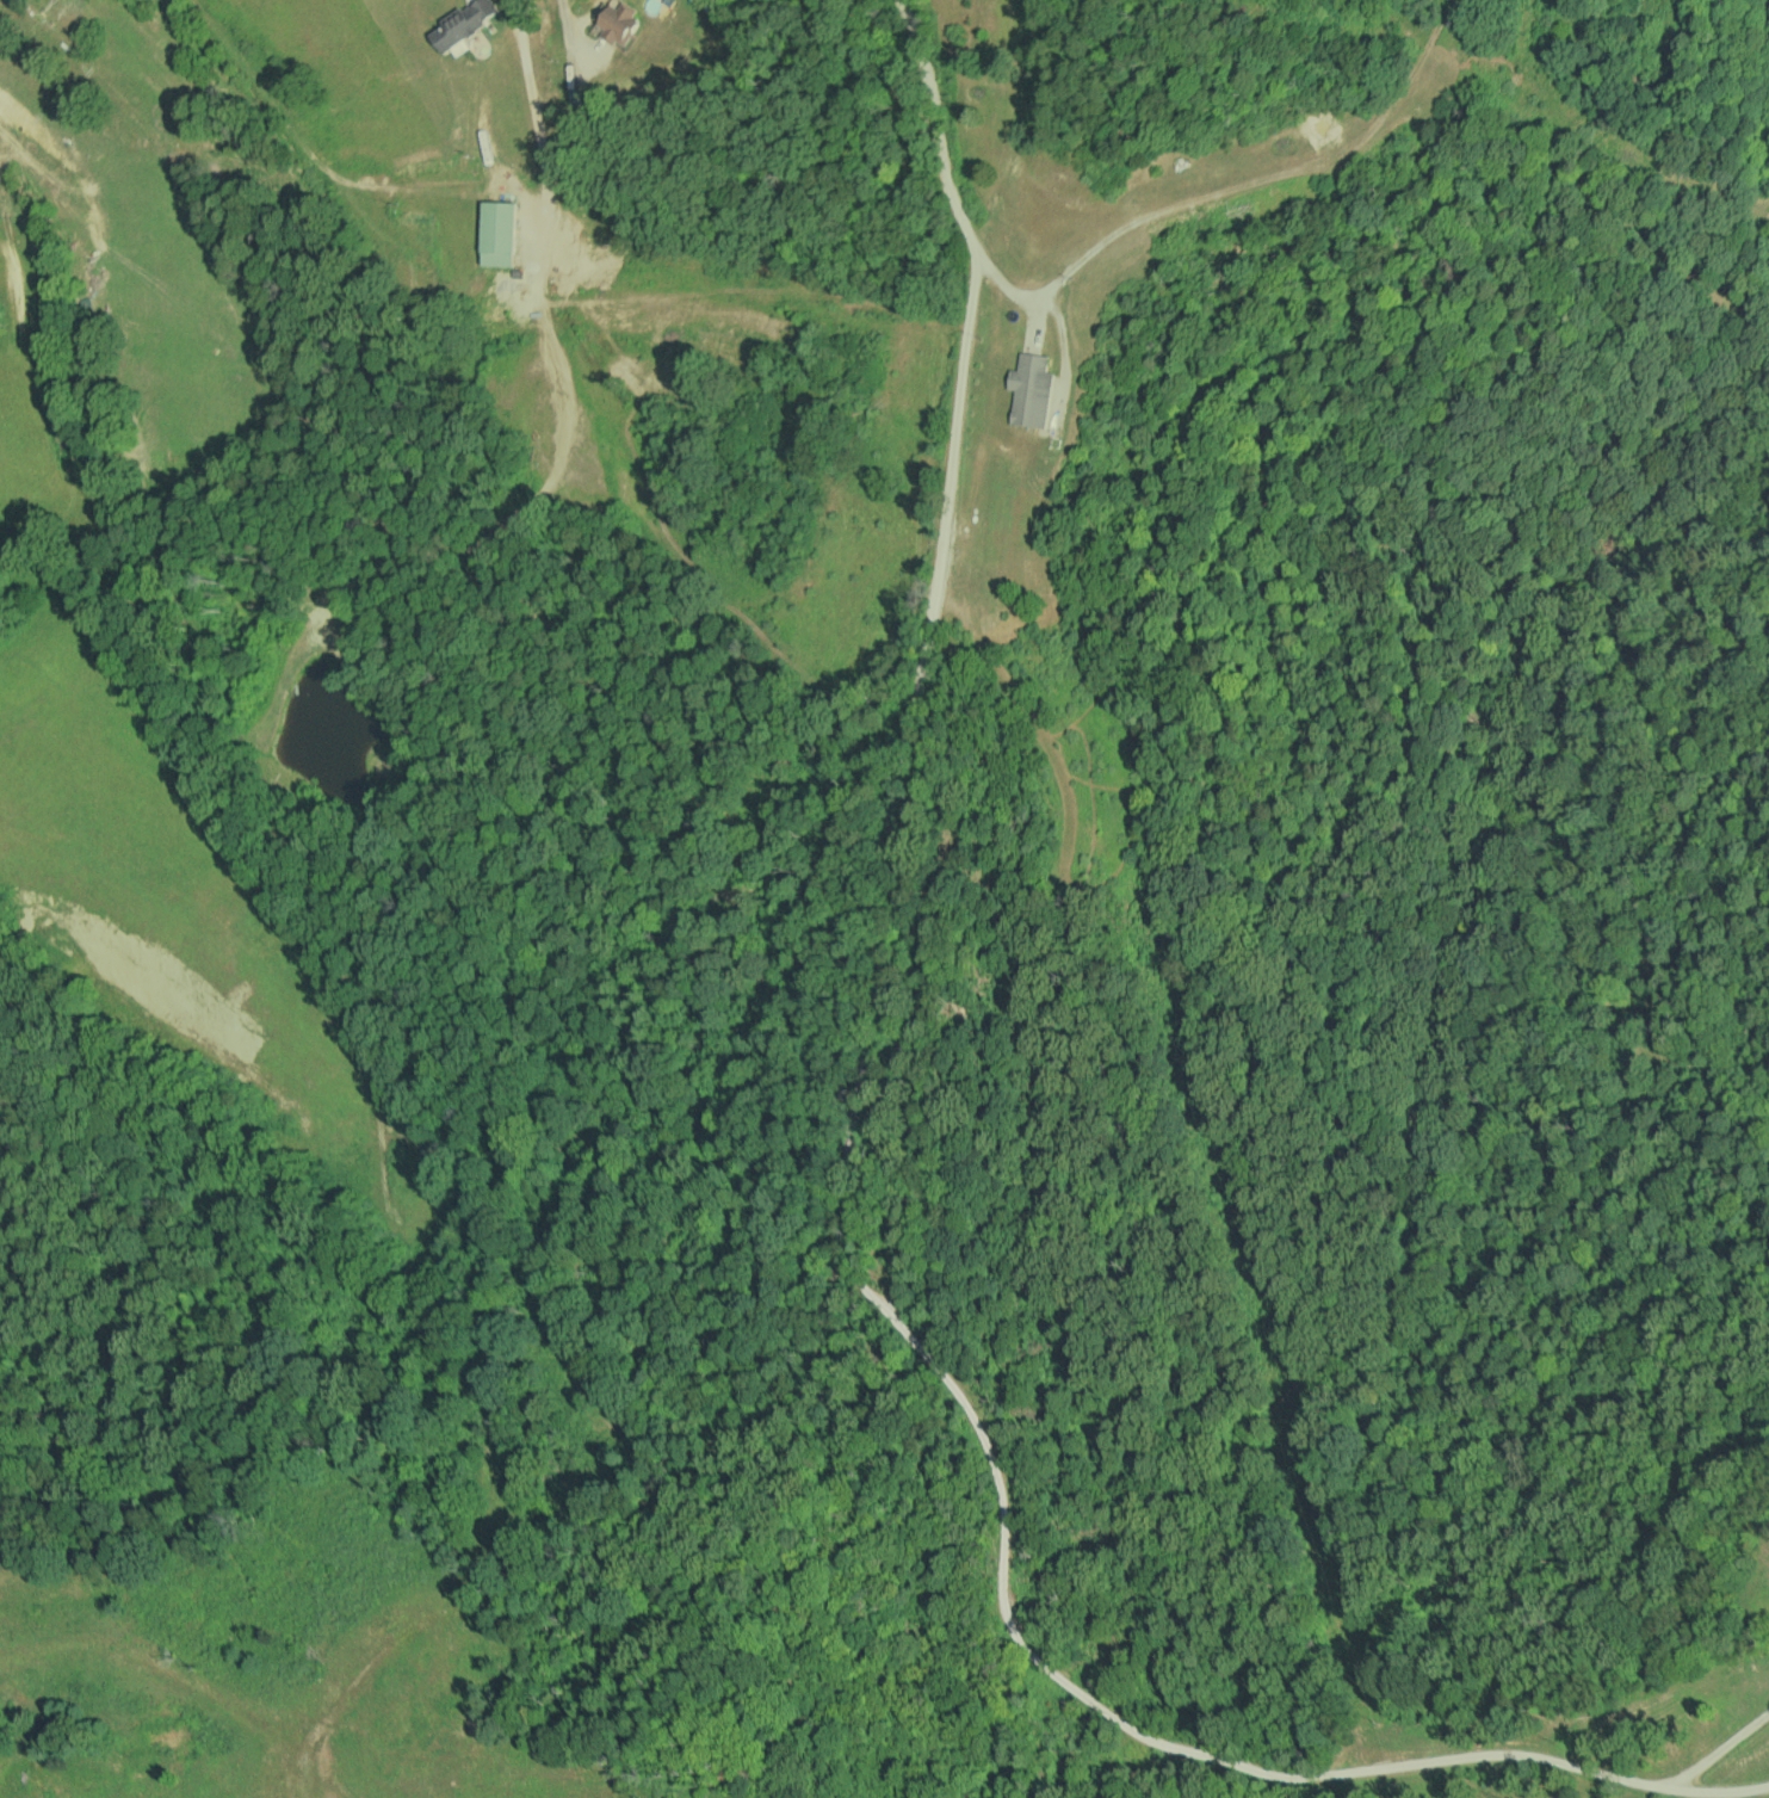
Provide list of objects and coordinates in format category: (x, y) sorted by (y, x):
building: (617, 20)
building: (462, 25)
road: (530, 93)
building: (576, 94)
building: (497, 233)
building: (1031, 389)
road: (841, 1178)
road: (1670, 1794)

